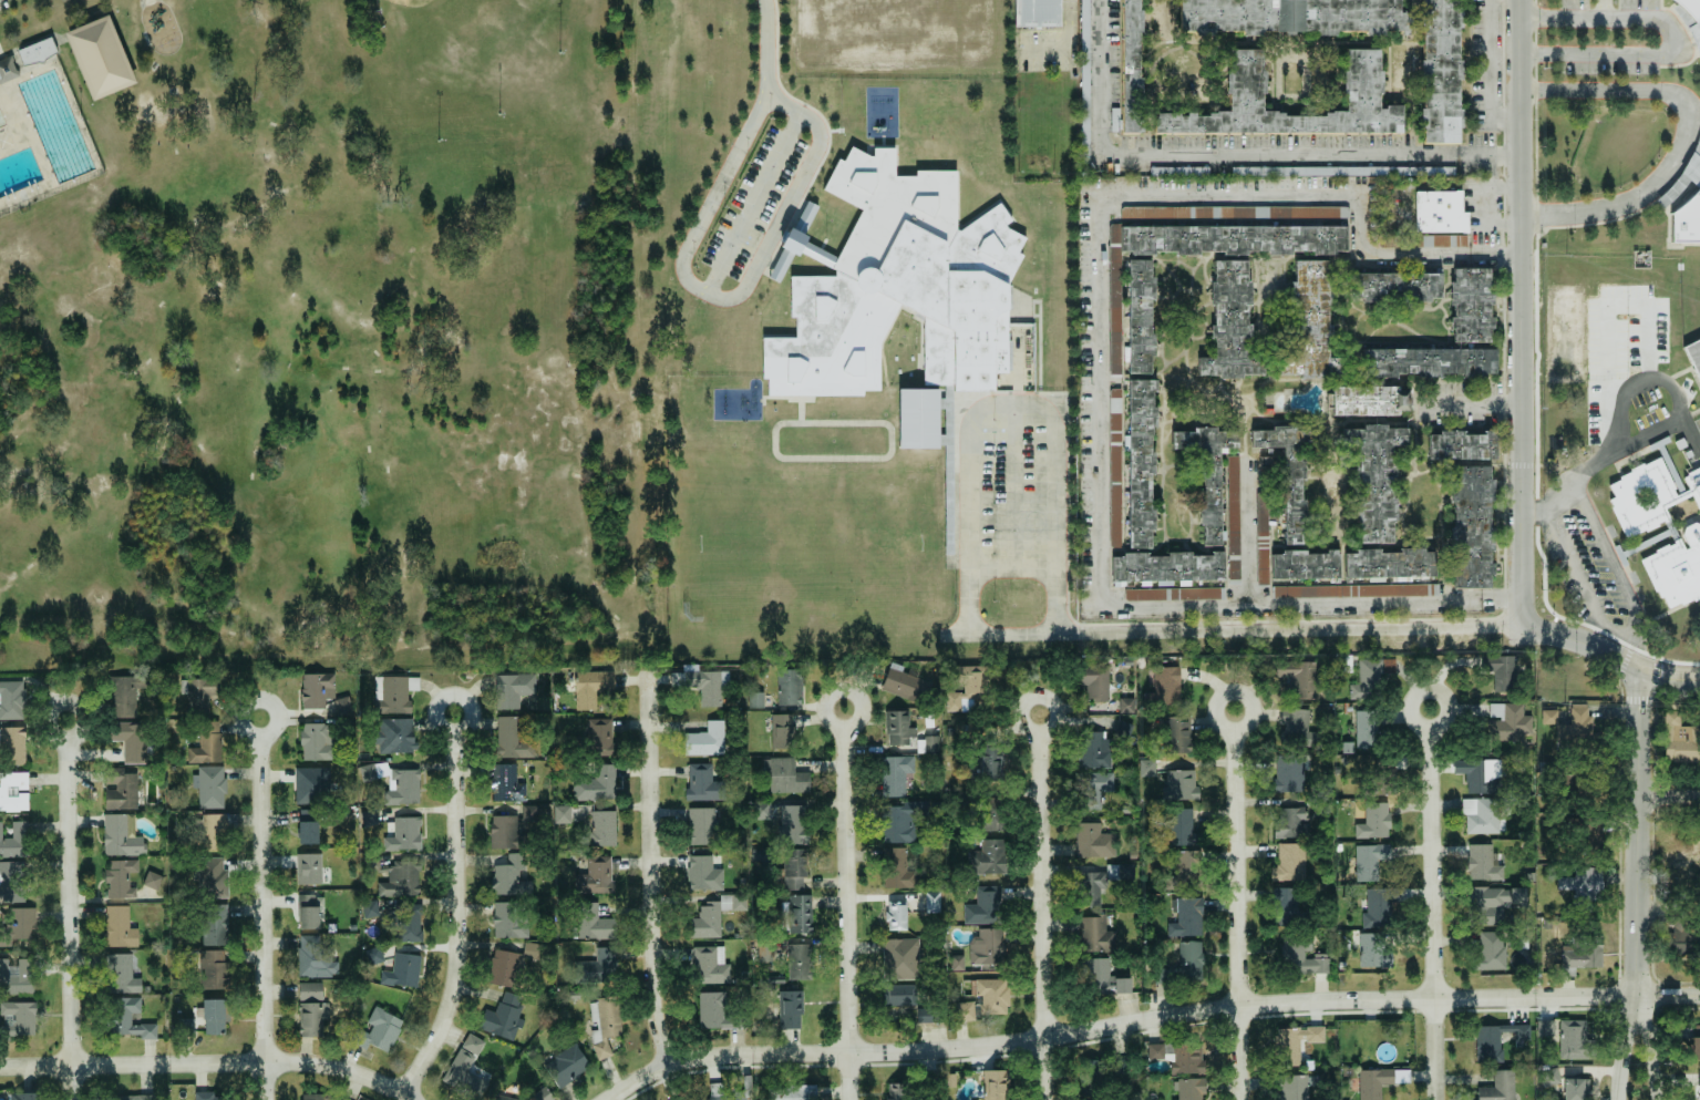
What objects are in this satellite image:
building: (1691, 9)
building: (1038, 13)
building: (1291, 16)
road: (1680, 37)
road: (764, 44)
road: (1069, 44)
building: (25, 56)
building: (100, 58)
park: (100, 58)
park: (456, 60)
building: (1130, 68)
building: (1441, 71)
road: (1491, 78)
building: (1361, 79)
building: (1114, 119)
road: (1687, 136)
road: (1236, 156)
building: (1178, 171)
building: (1333, 171)
road: (751, 202)
building: (1439, 213)
building: (1684, 222)
road: (777, 233)
building: (1232, 239)
building: (1443, 240)
building: (1394, 285)
building: (903, 296)
road: (724, 298)
building: (1470, 305)
building: (1114, 308)
road: (1523, 311)
building: (1137, 317)
building: (1228, 321)
building: (1308, 323)
park: (321, 335)
building: (1693, 358)
building: (1426, 361)
road: (1102, 374)
building: (1367, 400)
road: (1474, 402)
road: (1010, 403)
road: (1678, 403)
building: (1460, 445)
road: (876, 458)
building: (1139, 463)
building: (1287, 473)
building: (1206, 474)
building: (1373, 480)
road: (1014, 485)
road: (1573, 489)
building: (1470, 527)
road: (1247, 535)
building: (1690, 537)
building: (1261, 539)
park: (806, 552)
building: (1388, 563)
building: (1302, 564)
building: (1166, 566)
road: (1012, 567)
building: (1356, 590)
road: (1632, 628)
road: (1236, 630)
road: (1593, 631)
road: (1586, 644)
building: (1504, 674)
building: (1300, 677)
building: (1370, 677)
building: (1093, 678)
road: (1671, 679)
building: (702, 683)
building: (905, 685)
building: (789, 686)
building: (591, 687)
building: (1164, 687)
building: (968, 688)
building: (317, 689)
building: (513, 689)
building: (127, 691)
building: (202, 692)
building: (393, 693)
building: (12, 700)
building: (1126, 705)
building: (342, 706)
building: (1549, 717)
building: (1510, 721)
building: (1294, 726)
building: (896, 727)
building: (1576, 728)
building: (1366, 729)
building: (782, 730)
building: (395, 734)
building: (1176, 734)
building: (599, 736)
building: (705, 740)
building: (131, 741)
building: (317, 741)
building: (1684, 742)
building: (207, 743)
building: (927, 743)
building: (14, 744)
building: (989, 764)
building: (1146, 767)
building: (1095, 769)
building: (1291, 772)
building: (895, 774)
building: (1479, 774)
building: (785, 777)
building: (394, 782)
building: (702, 782)
building: (506, 783)
building: (596, 783)
building: (311, 785)
building: (1181, 785)
building: (210, 787)
building: (13, 791)
building: (122, 791)
road: (1670, 796)
building: (761, 810)
building: (990, 814)
building: (1485, 815)
building: (529, 816)
building: (369, 818)
building: (900, 821)
building: (1373, 821)
building: (1290, 823)
building: (219, 824)
building: (793, 824)
building: (701, 825)
building: (307, 826)
building: (602, 827)
building: (1181, 827)
building: (504, 831)
road: (1640, 833)
building: (404, 834)
building: (121, 835)
building: (14, 841)
building: (1093, 841)
building: (988, 857)
building: (1369, 860)
building: (1289, 863)
building: (1483, 863)
building: (794, 867)
building: (308, 868)
building: (896, 868)
building: (1185, 871)
road: (647, 872)
building: (703, 873)
building: (596, 875)
building: (509, 876)
building: (213, 877)
building: (120, 878)
building: (1102, 878)
building: (400, 880)
building: (11, 882)
building: (1583, 883)
building: (933, 901)
building: (733, 902)
building: (1493, 903)
road: (848, 904)
road: (1434, 904)
road: (1237, 905)
building: (983, 906)
road: (1042, 906)
building: (1285, 906)
building: (1379, 906)
building: (370, 908)
road: (258, 909)
road: (65, 911)
building: (307, 911)
road: (453, 912)
building: (796, 914)
building: (896, 916)
building: (1187, 917)
building: (509, 921)
building: (705, 921)
building: (593, 922)
building: (410, 923)
building: (215, 924)
building: (119, 927)
building: (1098, 934)
building: (1686, 938)
building: (1373, 950)
building: (1490, 950)
building: (1584, 953)
building: (374, 954)
building: (1301, 956)
building: (315, 957)
building: (900, 958)
building: (1191, 959)
building: (799, 962)
building: (511, 965)
building: (710, 965)
building: (597, 968)
building: (214, 969)
building: (402, 970)
building: (120, 974)
building: (1167, 975)
building: (17, 977)
building: (1103, 978)
building: (310, 991)
building: (900, 995)
building: (991, 996)
building: (790, 1009)
building: (717, 1011)
building: (961, 1011)
building: (215, 1016)
building: (502, 1017)
building: (18, 1018)
building: (311, 1018)
road: (1147, 1018)
building: (127, 1019)
building: (605, 1025)
building: (1545, 1027)
building: (378, 1031)
building: (1287, 1039)
building: (1496, 1039)
building: (1574, 1040)
road: (1650, 1047)
road: (1626, 1048)
building: (1693, 1048)
building: (1176, 1057)
building: (574, 1060)
road: (206, 1065)
building: (465, 1069)
building: (1550, 1077)
building: (1379, 1081)
building: (995, 1084)
building: (1699, 1084)
building: (1295, 1087)
building: (1498, 1087)
building: (1189, 1089)
building: (1575, 1089)
building: (897, 1091)
building: (791, 1092)
building: (542, 1094)
building: (18, 1096)
building: (207, 1096)
building: (135, 1097)
building: (316, 1097)
building: (728, 1097)
building: (511, 1098)
building: (693, 1099)

